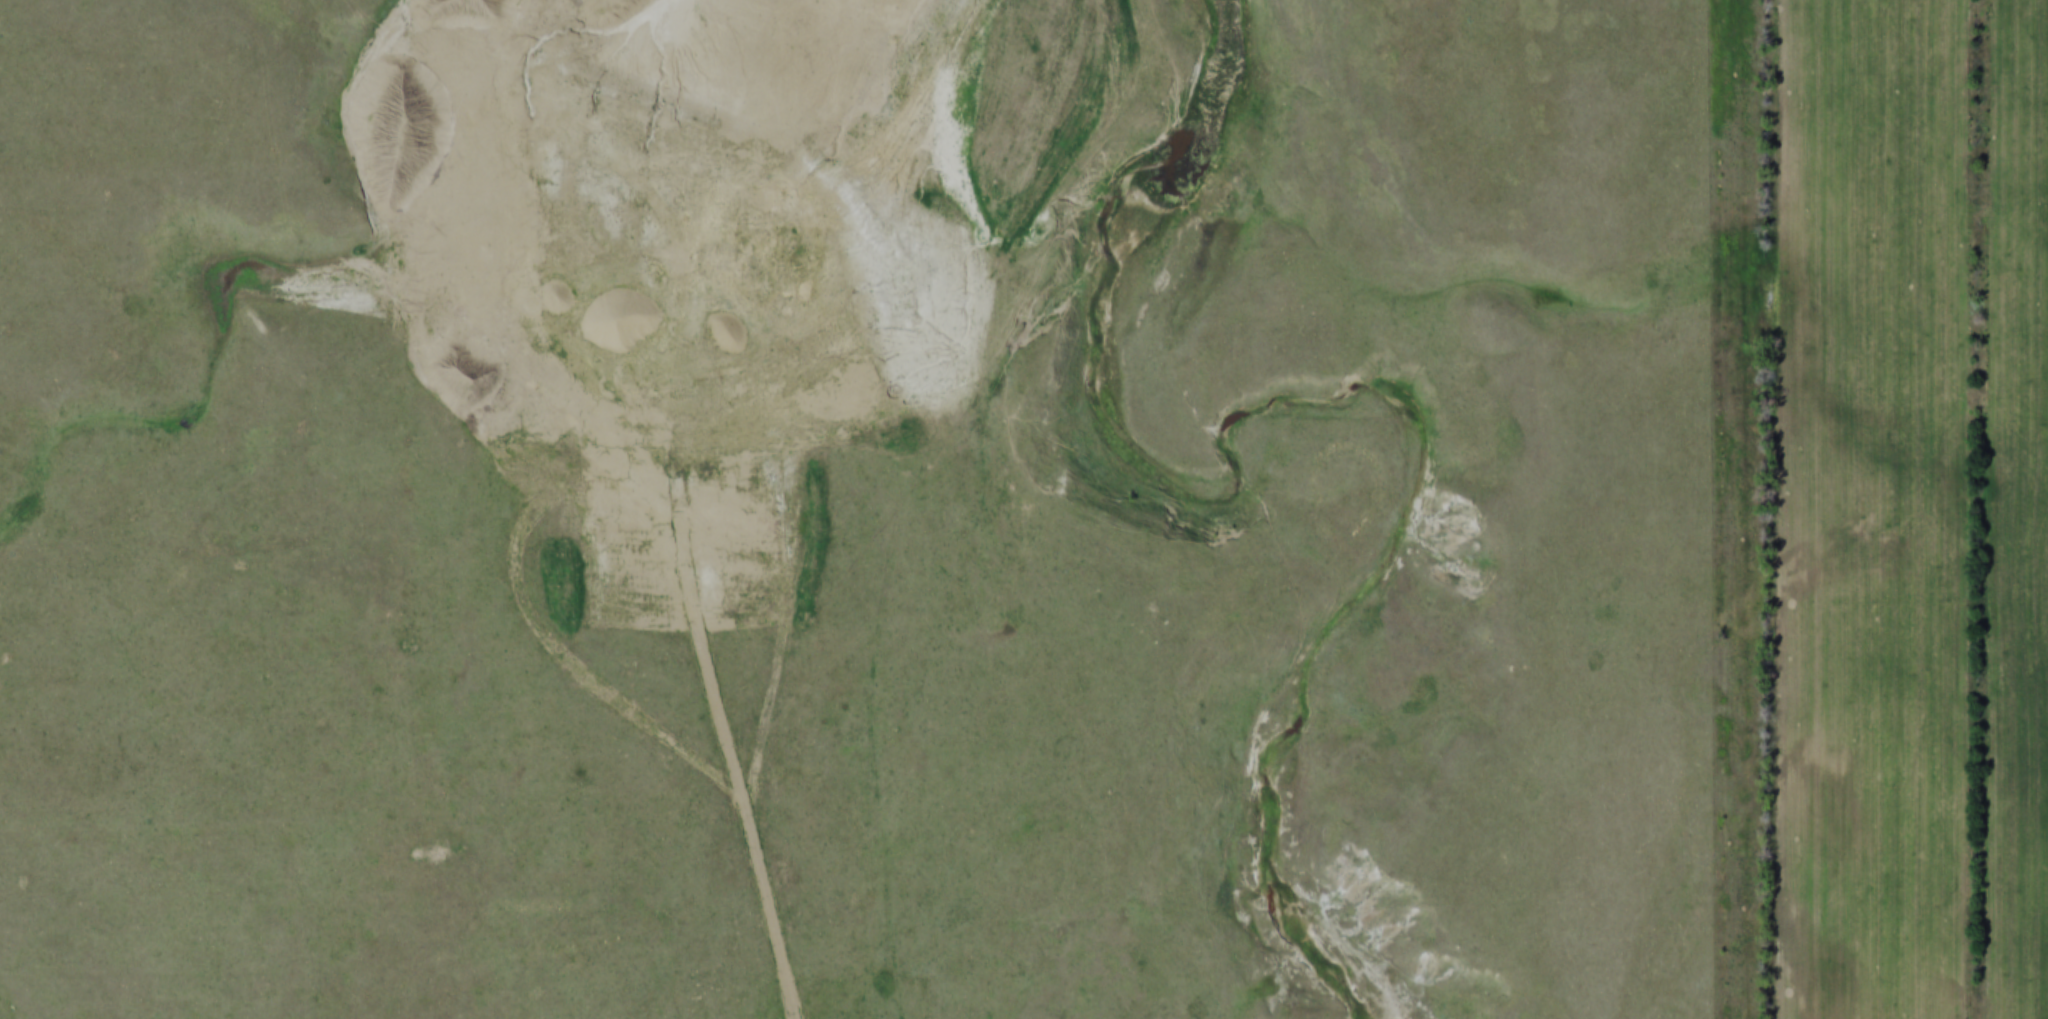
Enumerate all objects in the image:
quarry: (668, 214)

